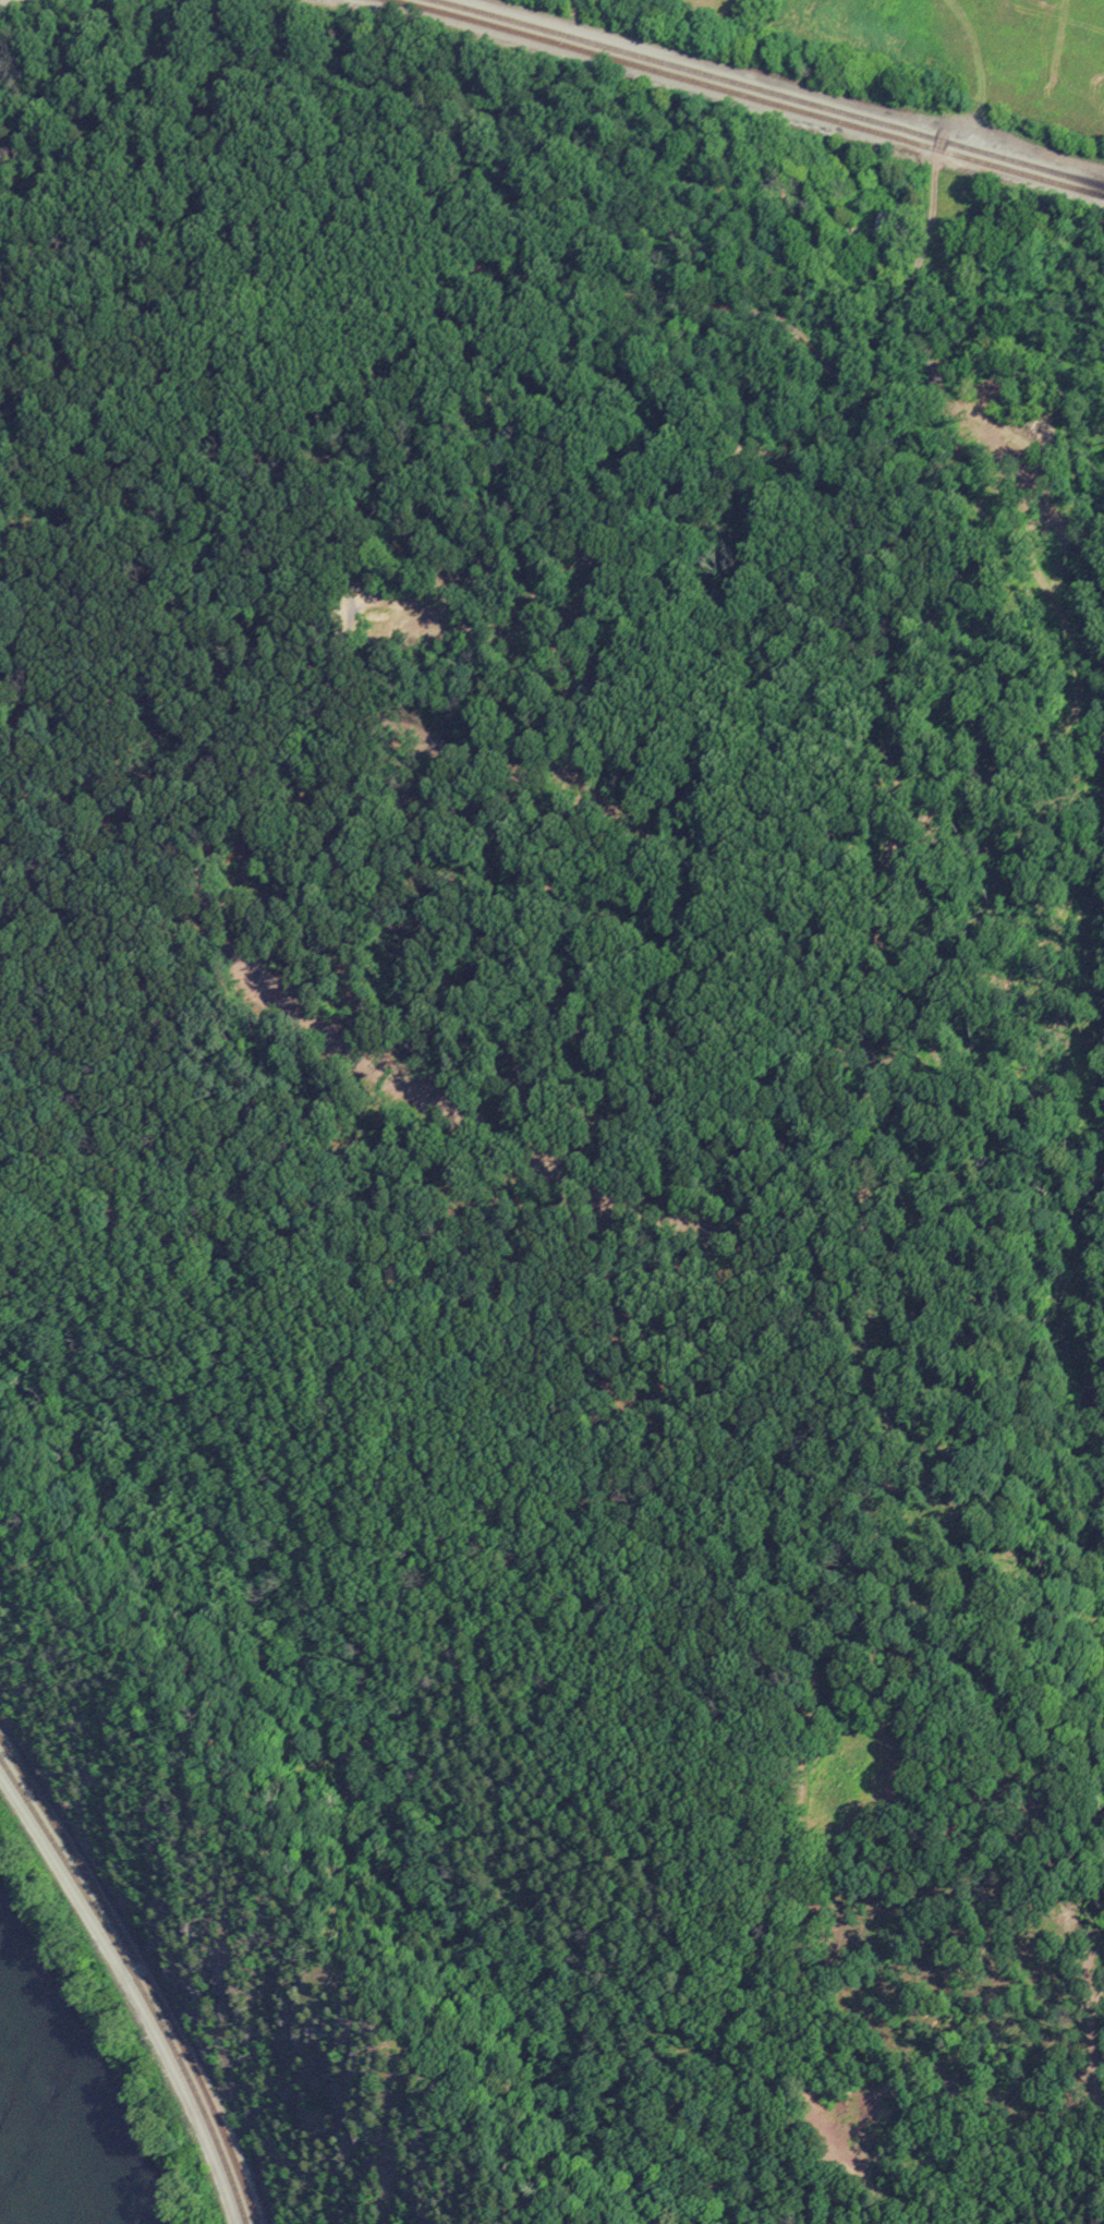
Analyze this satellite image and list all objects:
road: (794, 86)
railway: (769, 92)
railway: (749, 96)
building: (886, 225)
railway: (143, 1972)
railway: (138, 1982)
road: (129, 1996)
river: (35, 2156)

